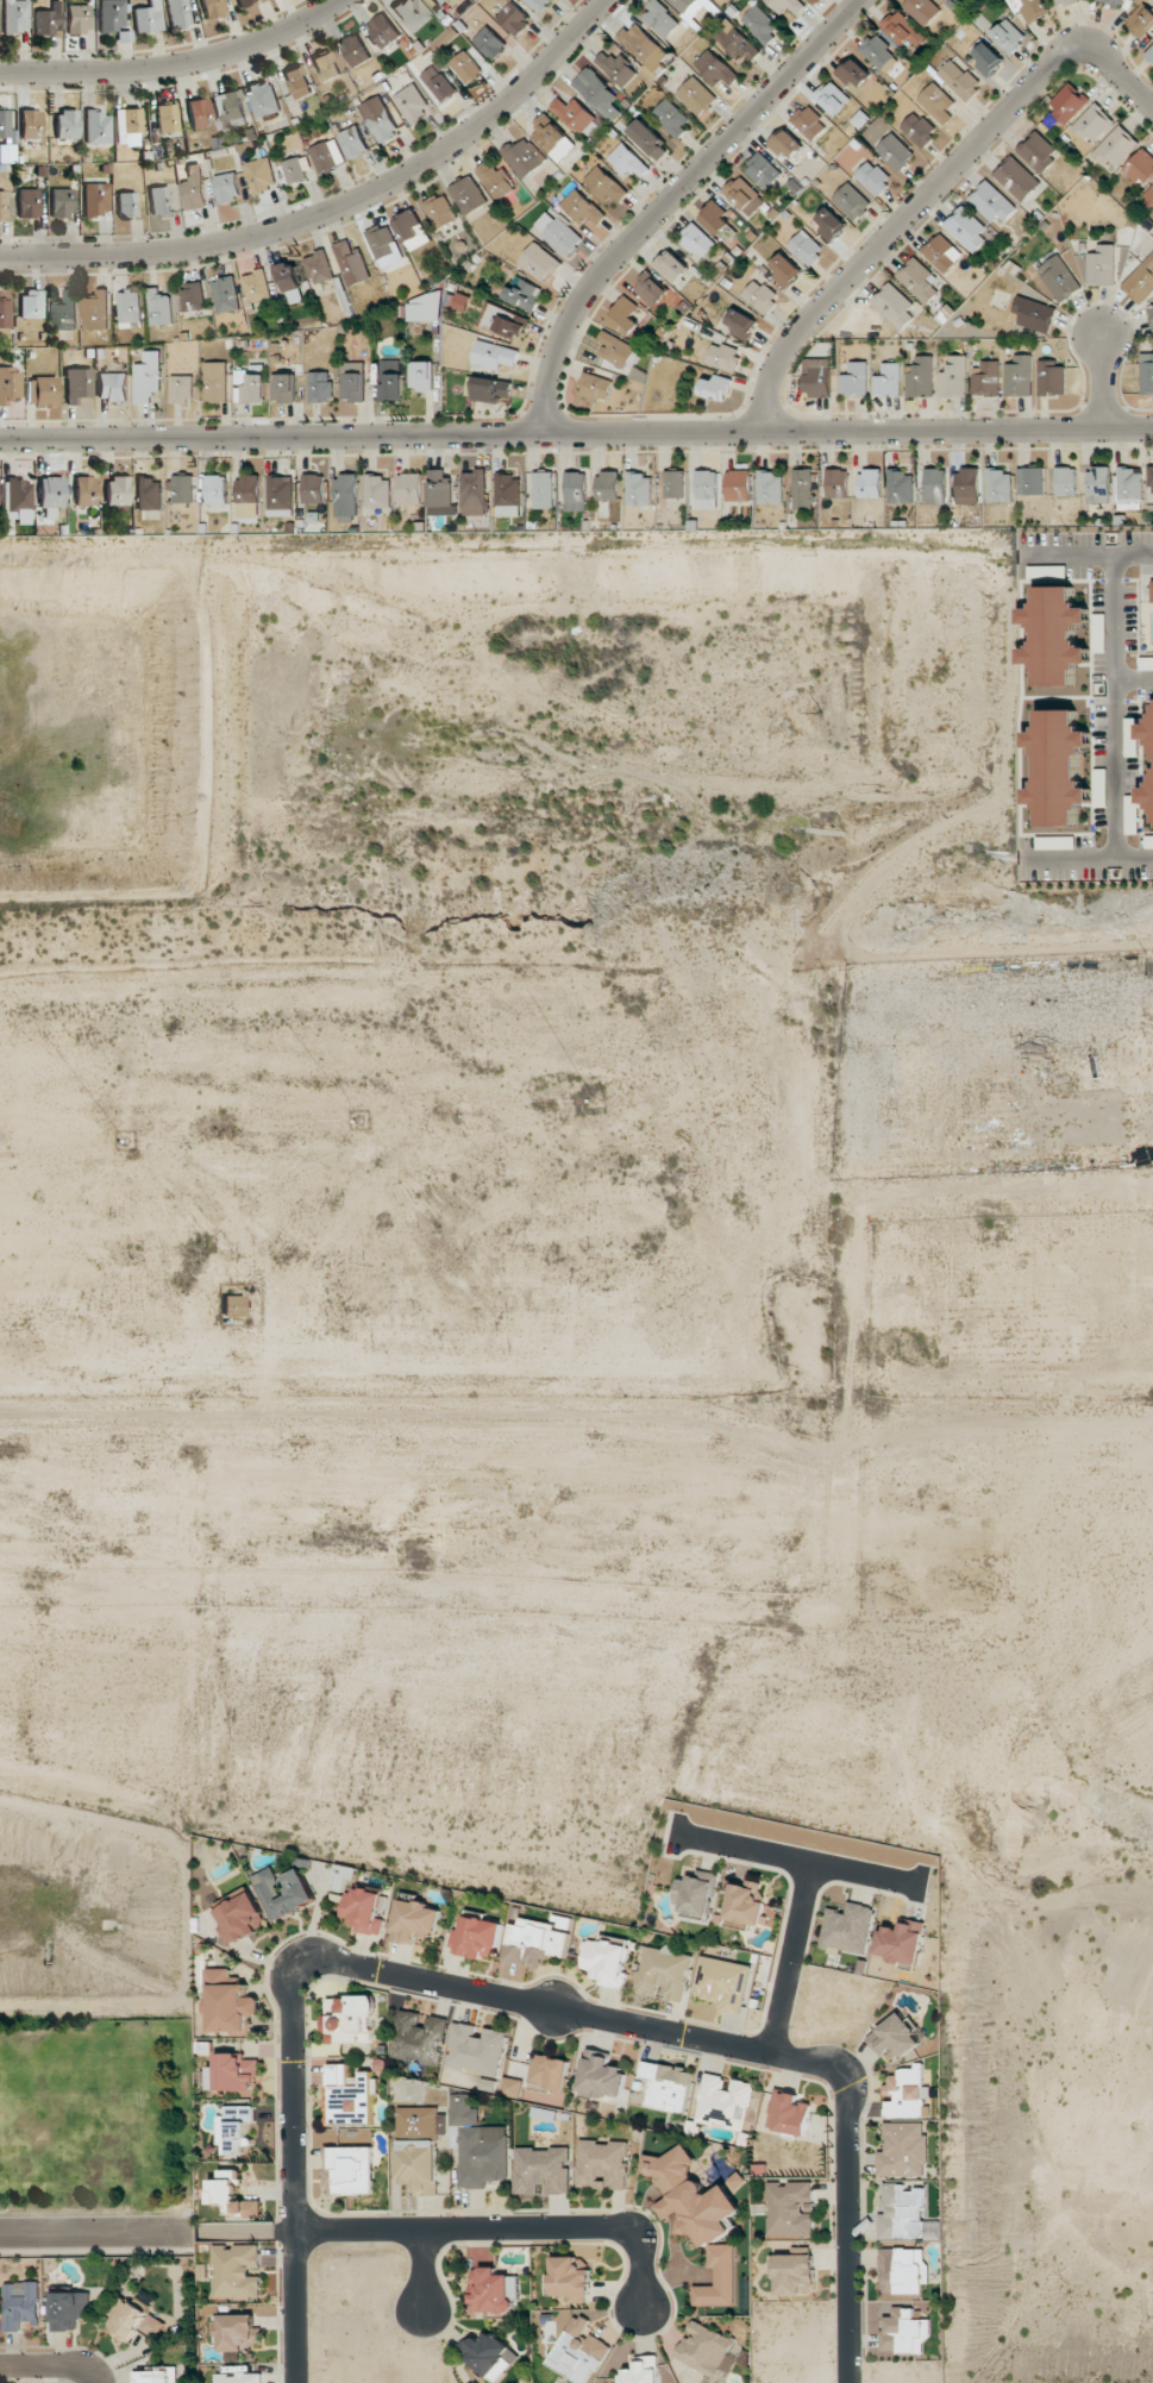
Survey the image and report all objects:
building: (243, 1)
building: (438, 1)
building: (1064, 2)
building: (1111, 2)
building: (537, 4)
building: (690, 5)
building: (785, 5)
building: (212, 7)
building: (1030, 8)
building: (922, 10)
building: (177, 13)
building: (412, 13)
building: (112, 14)
building: (14, 15)
building: (148, 18)
building: (662, 18)
building: (49, 19)
building: (76, 19)
building: (514, 19)
building: (1141, 19)
building: (760, 24)
building: (901, 29)
building: (384, 31)
building: (1009, 36)
building: (734, 40)
building: (490, 42)
building: (640, 43)
building: (356, 50)
building: (878, 52)
building: (1151, 56)
building: (989, 59)
road: (175, 64)
building: (326, 65)
building: (465, 67)
building: (616, 68)
building: (715, 68)
building: (854, 73)
building: (959, 80)
building: (297, 82)
building: (439, 82)
building: (596, 93)
building: (696, 96)
building: (833, 98)
building: (264, 99)
building: (412, 102)
building: (938, 102)
building: (1069, 104)
building: (228, 109)
building: (199, 113)
building: (576, 115)
building: (671, 117)
building: (167, 118)
building: (380, 119)
building: (127, 123)
building: (809, 123)
building: (31, 124)
building: (67, 124)
building: (1094, 124)
building: (98, 127)
building: (919, 128)
building: (552, 138)
building: (648, 139)
building: (353, 142)
building: (788, 144)
building: (1115, 149)
building: (6, 150)
building: (1038, 151)
building: (896, 152)
building: (327, 155)
building: (524, 157)
building: (628, 162)
building: (1141, 168)
building: (295, 170)
building: (764, 171)
building: (261, 175)
building: (873, 177)
building: (1016, 178)
building: (496, 180)
building: (604, 186)
building: (227, 187)
building: (194, 188)
road: (930, 192)
building: (469, 195)
building: (1149, 195)
building: (745, 196)
building: (96, 199)
road: (672, 199)
building: (159, 201)
building: (62, 202)
building: (852, 202)
building: (992, 202)
building: (29, 203)
building: (2, 205)
building: (127, 205)
building: (582, 208)
road: (339, 209)
building: (440, 211)
building: (718, 220)
building: (831, 224)
building: (966, 228)
building: (412, 230)
building: (558, 233)
building: (697, 240)
building: (386, 247)
building: (806, 247)
building: (941, 252)
building: (539, 262)
building: (352, 263)
building: (1101, 264)
building: (672, 266)
building: (319, 268)
building: (785, 269)
building: (288, 275)
building: (1059, 278)
building: (1141, 281)
building: (257, 286)
building: (651, 289)
building: (525, 294)
building: (226, 295)
building: (193, 296)
building: (760, 296)
building: (460, 302)
building: (31, 303)
building: (894, 306)
building: (159, 307)
building: (425, 308)
building: (130, 309)
building: (95, 311)
building: (65, 312)
building: (1151, 312)
building: (5, 313)
building: (1033, 314)
building: (625, 315)
building: (505, 321)
building: (742, 325)
building: (618, 350)
building: (494, 355)
building: (723, 356)
building: (1147, 374)
building: (421, 375)
building: (1019, 376)
building: (148, 377)
building: (817, 377)
building: (920, 377)
building: (954, 377)
building: (985, 378)
building: (1051, 378)
building: (391, 380)
building: (856, 380)
building: (888, 380)
building: (353, 381)
building: (217, 382)
building: (10, 384)
building: (77, 384)
road: (1104, 384)
building: (112, 387)
building: (320, 387)
building: (596, 387)
building: (284, 388)
building: (716, 388)
building: (181, 389)
building: (252, 389)
building: (488, 389)
building: (42, 391)
road: (576, 434)
building: (1151, 478)
building: (1030, 481)
building: (1066, 482)
building: (836, 483)
building: (870, 483)
building: (675, 484)
building: (1098, 484)
building: (576, 485)
building: (607, 485)
building: (738, 485)
building: (934, 485)
building: (967, 485)
building: (998, 485)
building: (901, 487)
building: (313, 488)
building: (439, 488)
building: (770, 488)
building: (803, 488)
building: (1128, 488)
building: (183, 489)
building: (217, 489)
building: (247, 489)
building: (409, 489)
building: (543, 489)
building: (639, 489)
building: (84, 490)
building: (118, 490)
building: (707, 490)
building: (378, 493)
building: (474, 493)
building: (149, 494)
building: (51, 495)
building: (508, 495)
building: (281, 496)
building: (346, 497)
building: (1152, 590)
building: (1055, 635)
building: (1146, 663)
road: (1115, 707)
building: (1147, 732)
building: (1130, 736)
building: (1059, 767)
building: (1099, 788)
building: (1147, 794)
building: (1132, 814)
building: (233, 1306)
road: (800, 1861)
building: (283, 1892)
building: (694, 1893)
building: (745, 1905)
building: (363, 1909)
building: (240, 1919)
building: (415, 1921)
building: (848, 1927)
building: (478, 1937)
building: (534, 1942)
building: (901, 1943)
road: (791, 1958)
building: (607, 1959)
building: (664, 1973)
building: (723, 1983)
building: (228, 2003)
building: (350, 2019)
building: (895, 2036)
building: (419, 2037)
road: (734, 2046)
building: (476, 2049)
building: (549, 2072)
building: (234, 2074)
building: (600, 2075)
building: (668, 2086)
building: (908, 2093)
building: (350, 2096)
building: (725, 2101)
building: (464, 2111)
building: (789, 2113)
park: (95, 2118)
building: (418, 2120)
building: (236, 2128)
building: (904, 2150)
building: (483, 2156)
road: (295, 2163)
building: (602, 2164)
building: (419, 2165)
building: (349, 2170)
building: (543, 2170)
building: (233, 2196)
building: (791, 2208)
building: (902, 2212)
building: (700, 2220)
road: (505, 2230)
road: (98, 2233)
building: (902, 2270)
building: (237, 2271)
road: (424, 2271)
building: (794, 2274)
building: (493, 2291)
building: (20, 2304)
building: (69, 2309)
building: (132, 2321)
building: (904, 2331)
building: (238, 2332)
building: (709, 2351)
building: (578, 2352)
building: (490, 2354)
road: (50, 2366)
building: (643, 2370)
building: (155, 2375)
building: (237, 2375)

